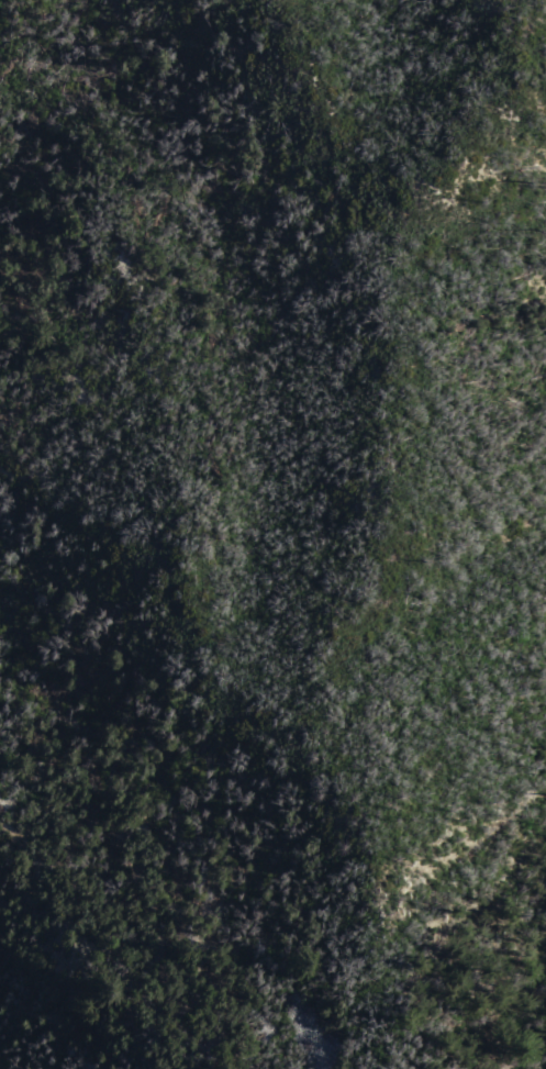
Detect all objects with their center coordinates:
road: (11, 66)

